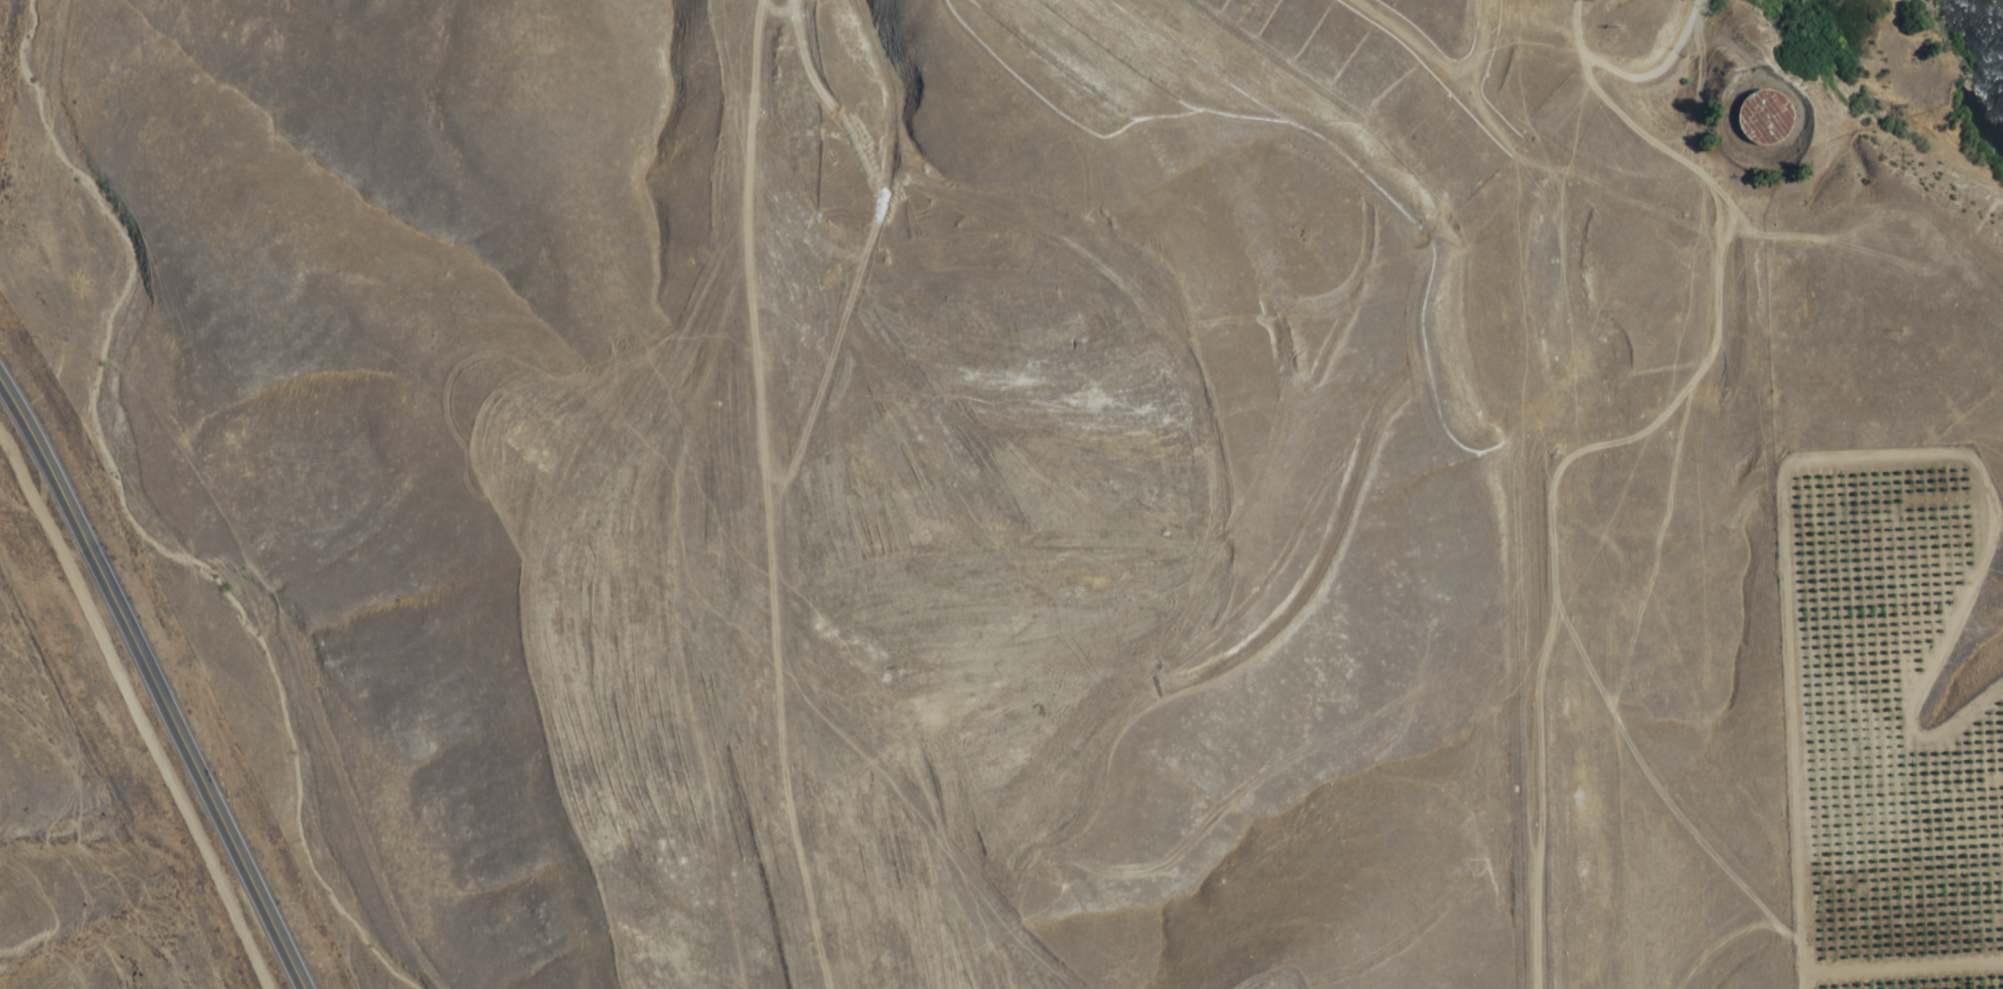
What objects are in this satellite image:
river: (1994, 13)
building: (1763, 117)
park: (1837, 311)
road: (151, 690)

